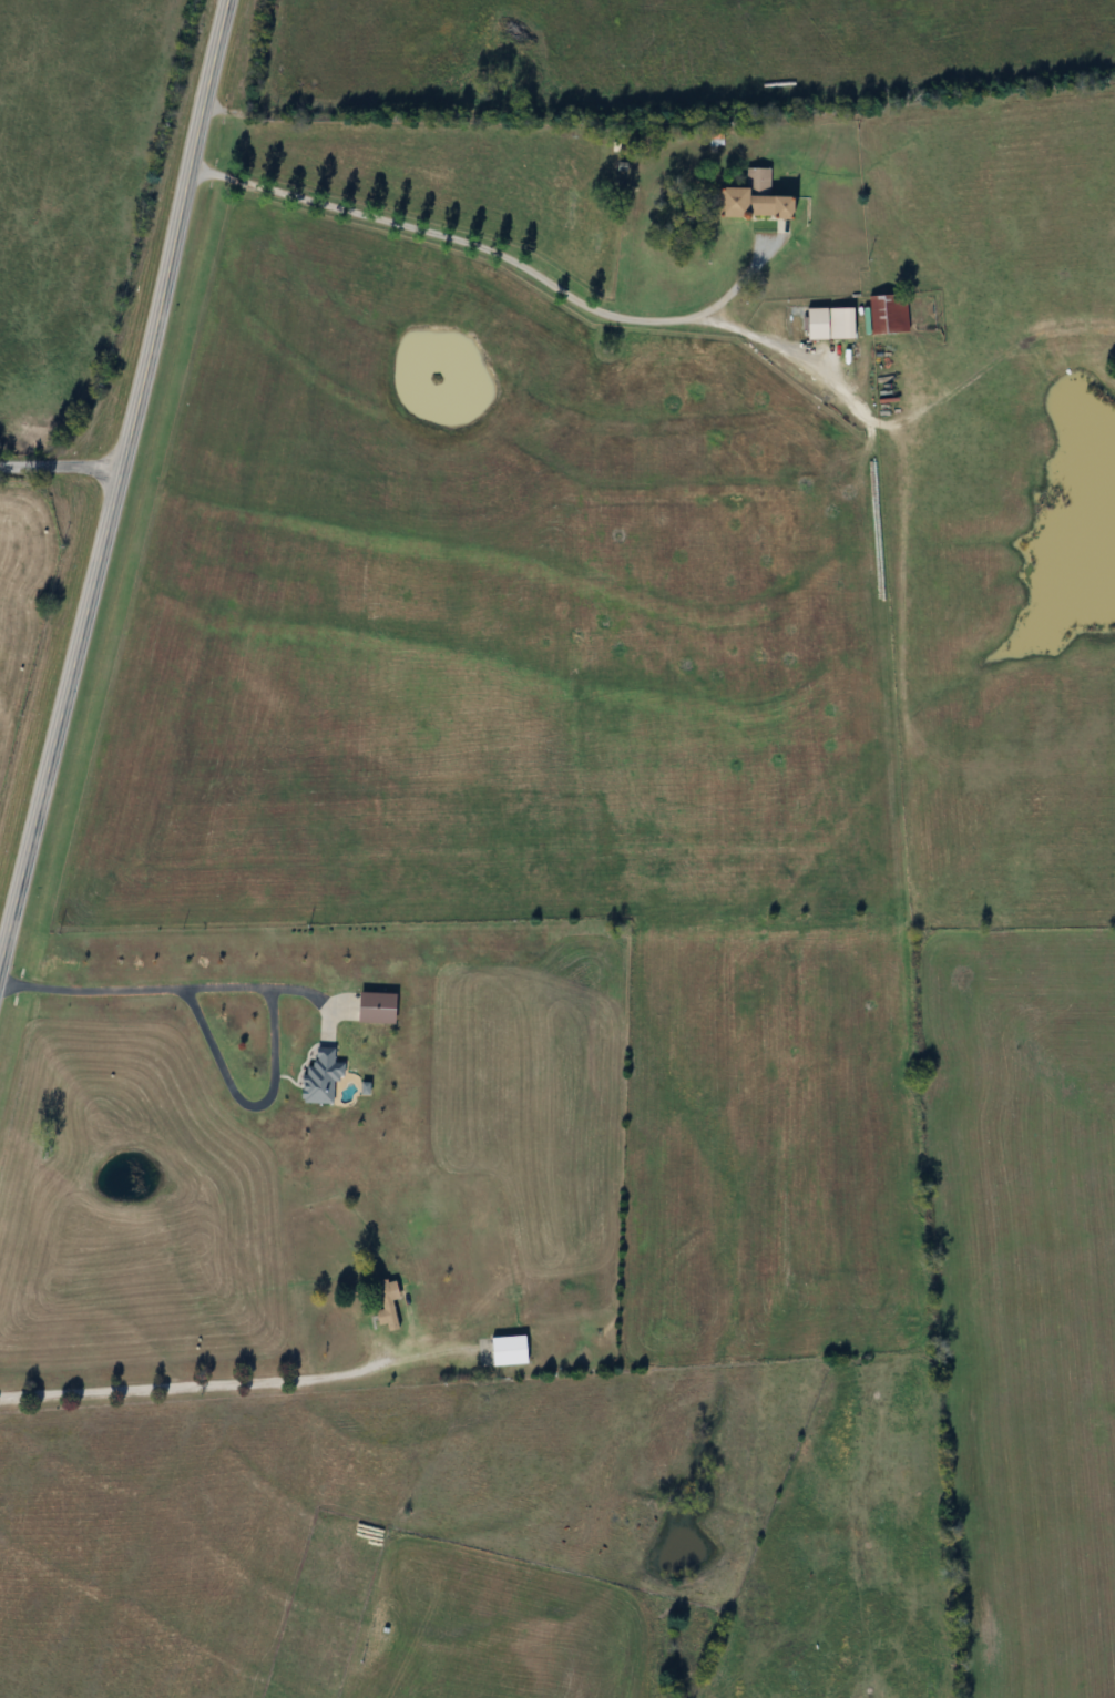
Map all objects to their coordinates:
building: (763, 200)
road: (502, 254)
building: (891, 315)
building: (835, 324)
road: (781, 346)
road: (59, 467)
road: (115, 475)
road: (92, 988)
road: (276, 1078)
building: (390, 1305)
building: (513, 1350)
road: (192, 1385)

